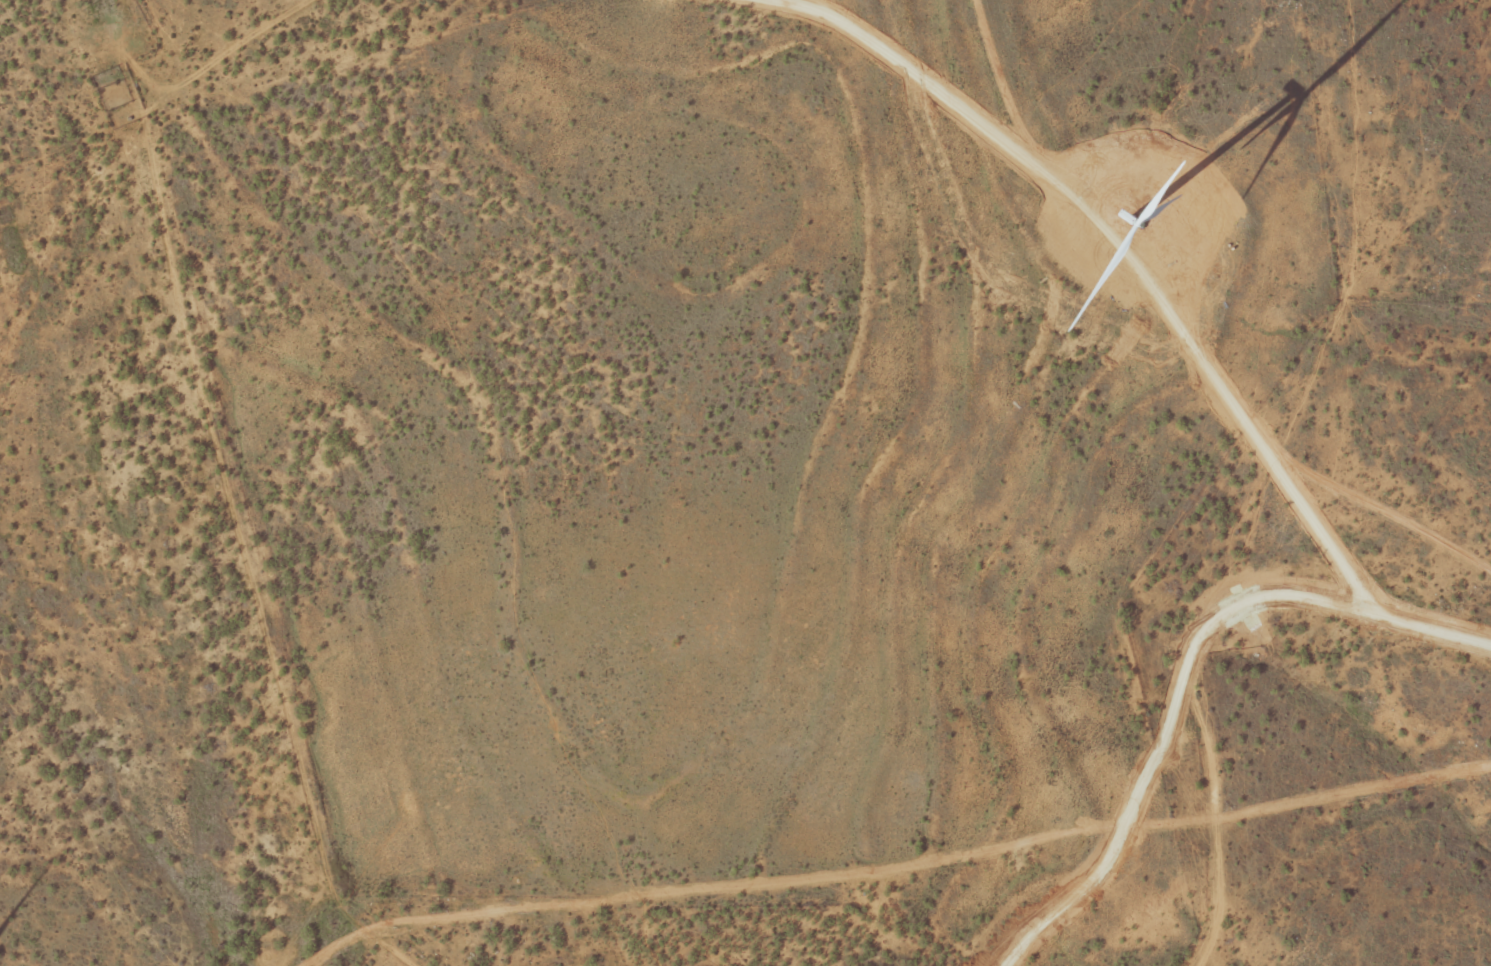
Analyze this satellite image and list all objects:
wind turbine: (1128, 218)
road: (1209, 666)

